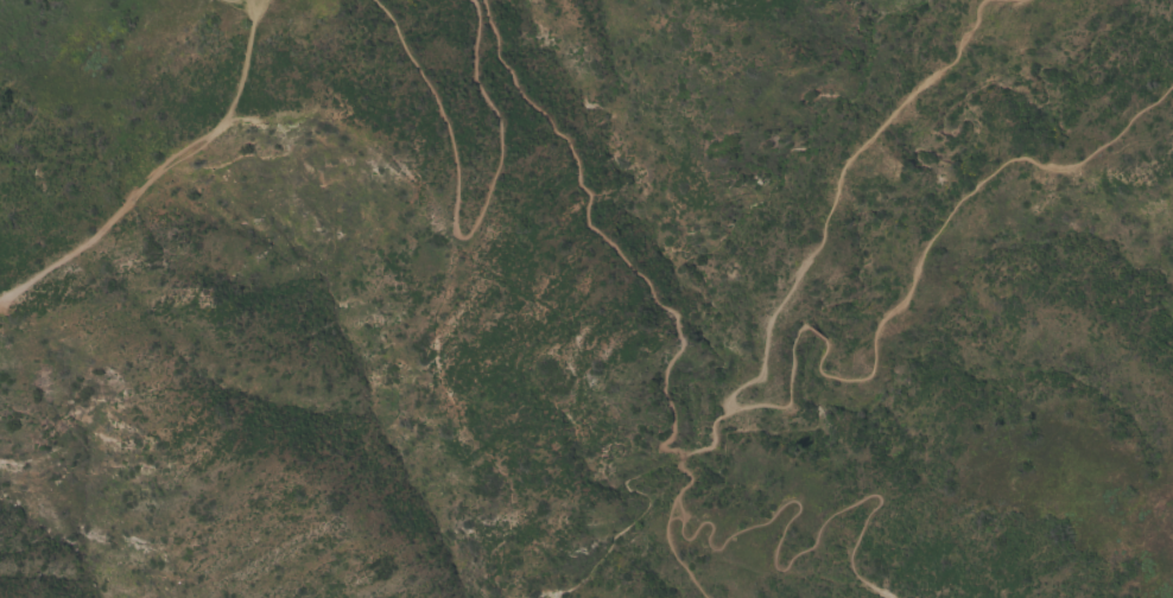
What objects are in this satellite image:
road: (247, 7)
road: (164, 171)
road: (819, 225)
road: (450, 231)
road: (596, 237)
road: (906, 285)
road: (443, 304)
road: (634, 516)
road: (665, 526)
road: (774, 565)

